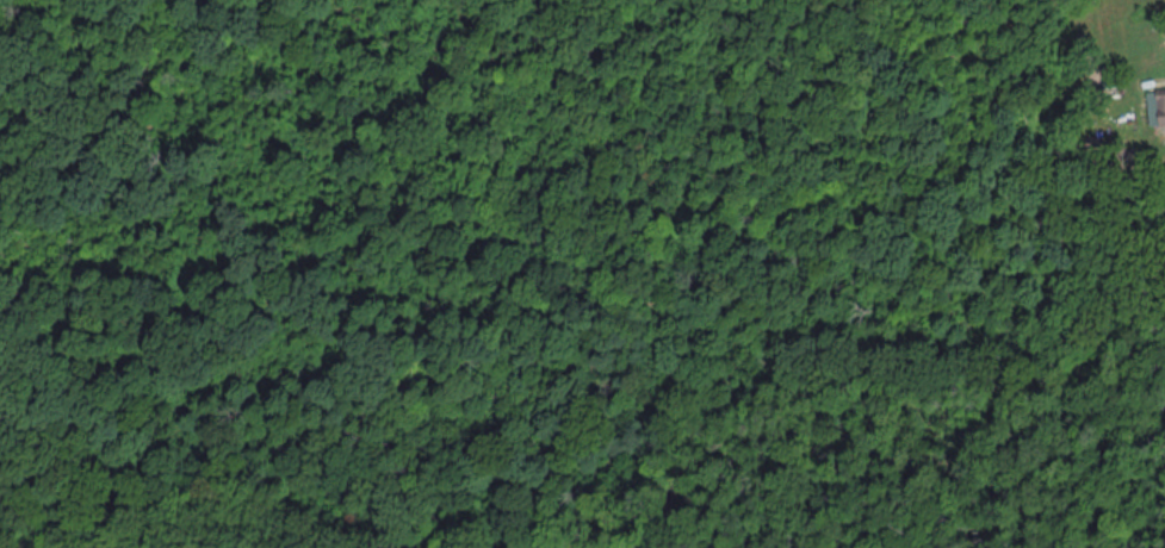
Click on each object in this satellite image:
building: (1160, 111)

